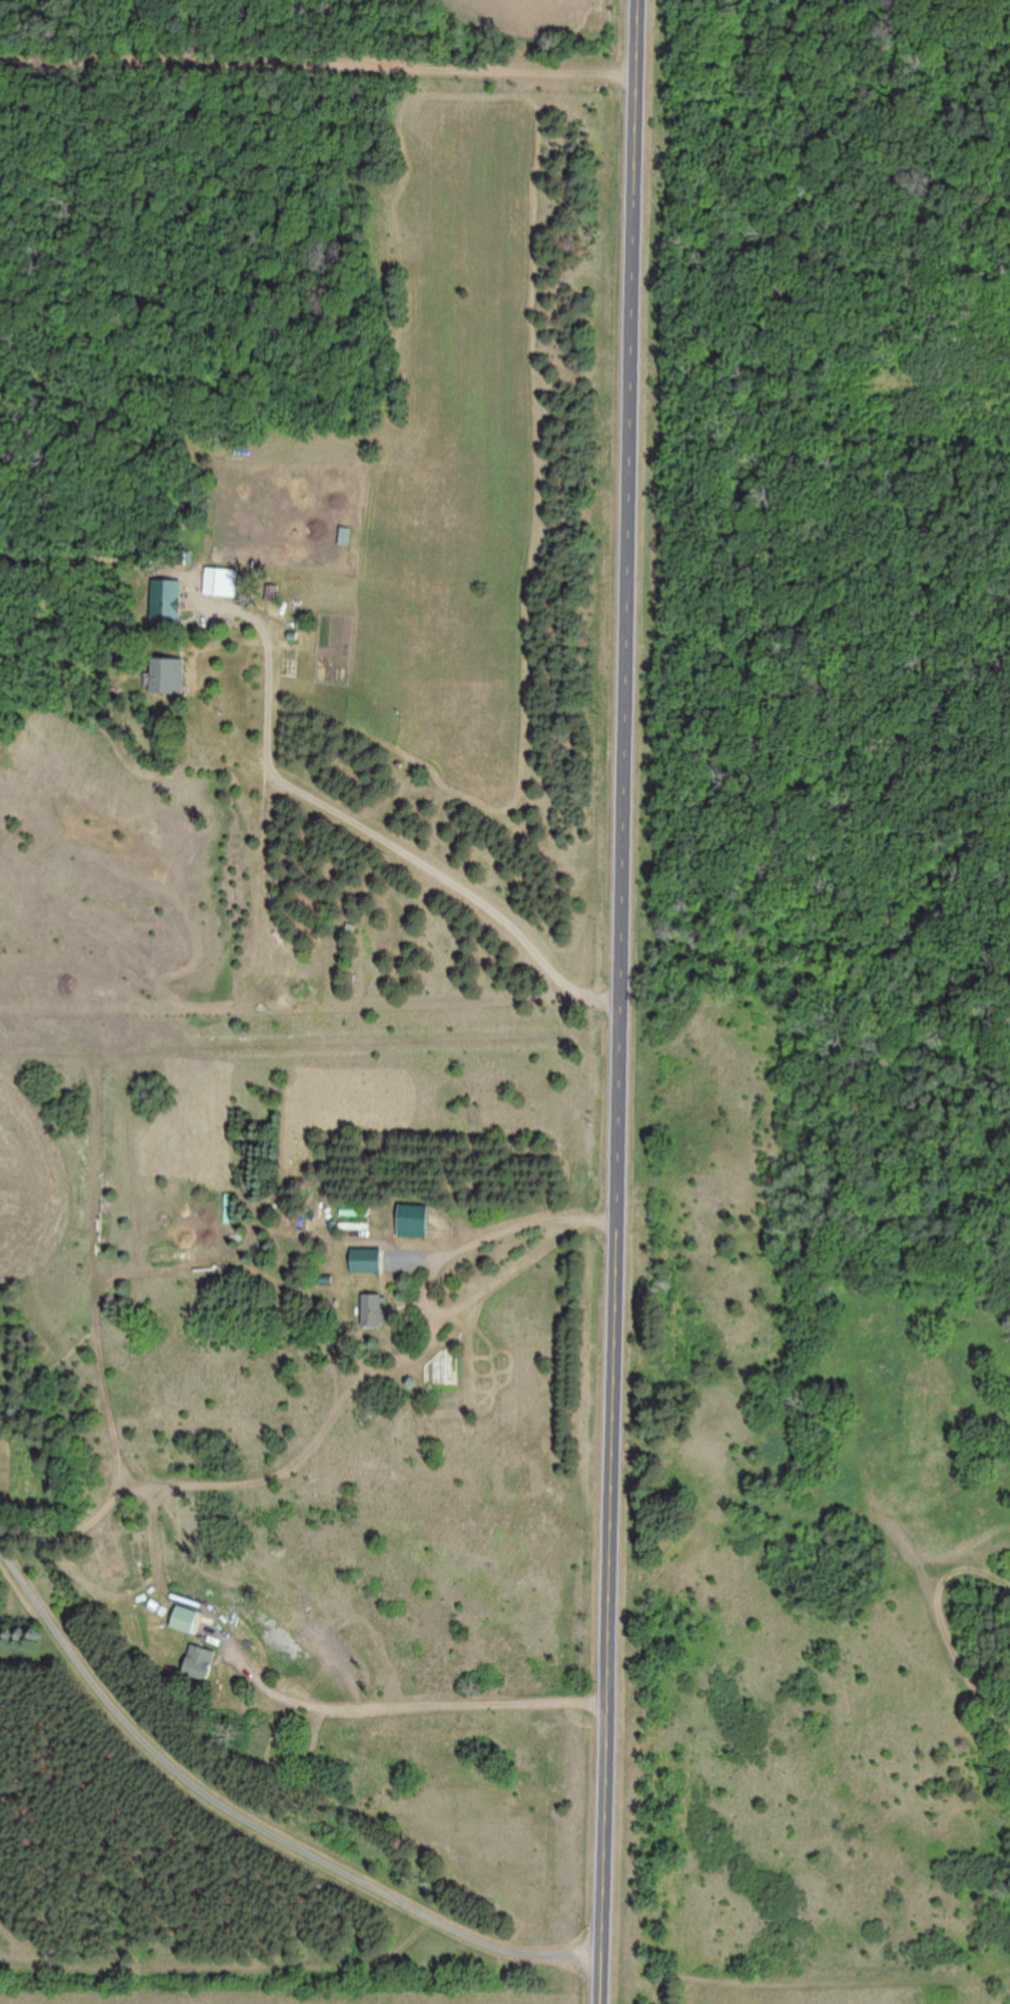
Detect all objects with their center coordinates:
building: (219, 584)
building: (165, 603)
building: (167, 677)
road: (361, 827)
road: (617, 1001)
park: (816, 1016)
road: (483, 1236)
building: (368, 1262)
building: (377, 1313)
road: (157, 1494)
road: (800, 1521)
building: (184, 1621)
building: (199, 1664)
road: (252, 1838)

